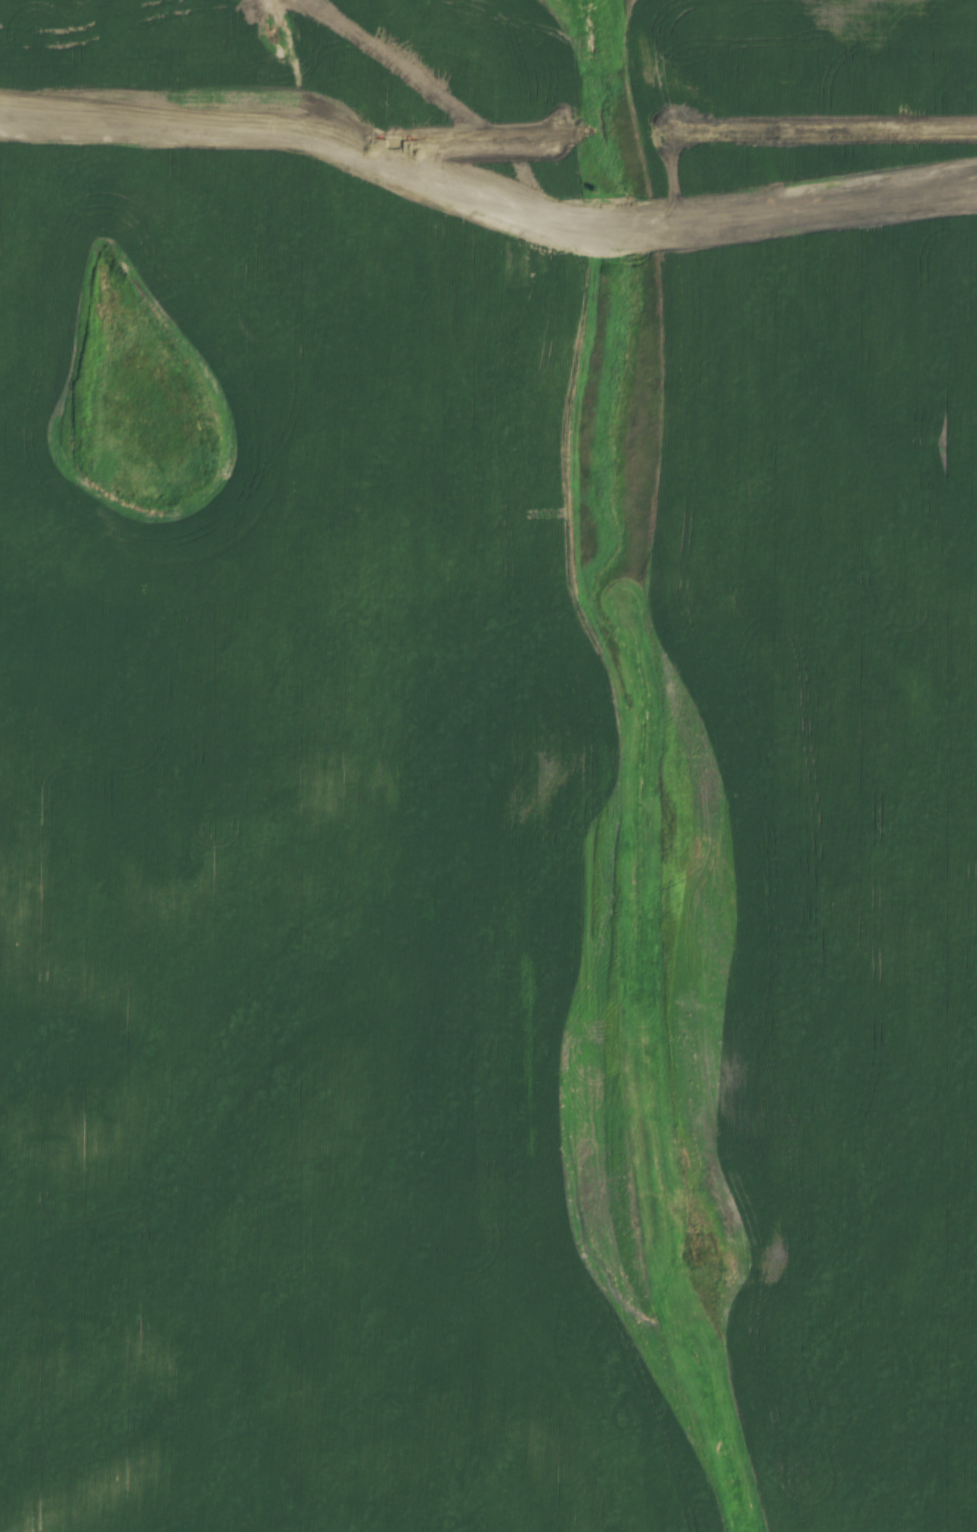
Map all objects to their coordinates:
road: (316, 123)

